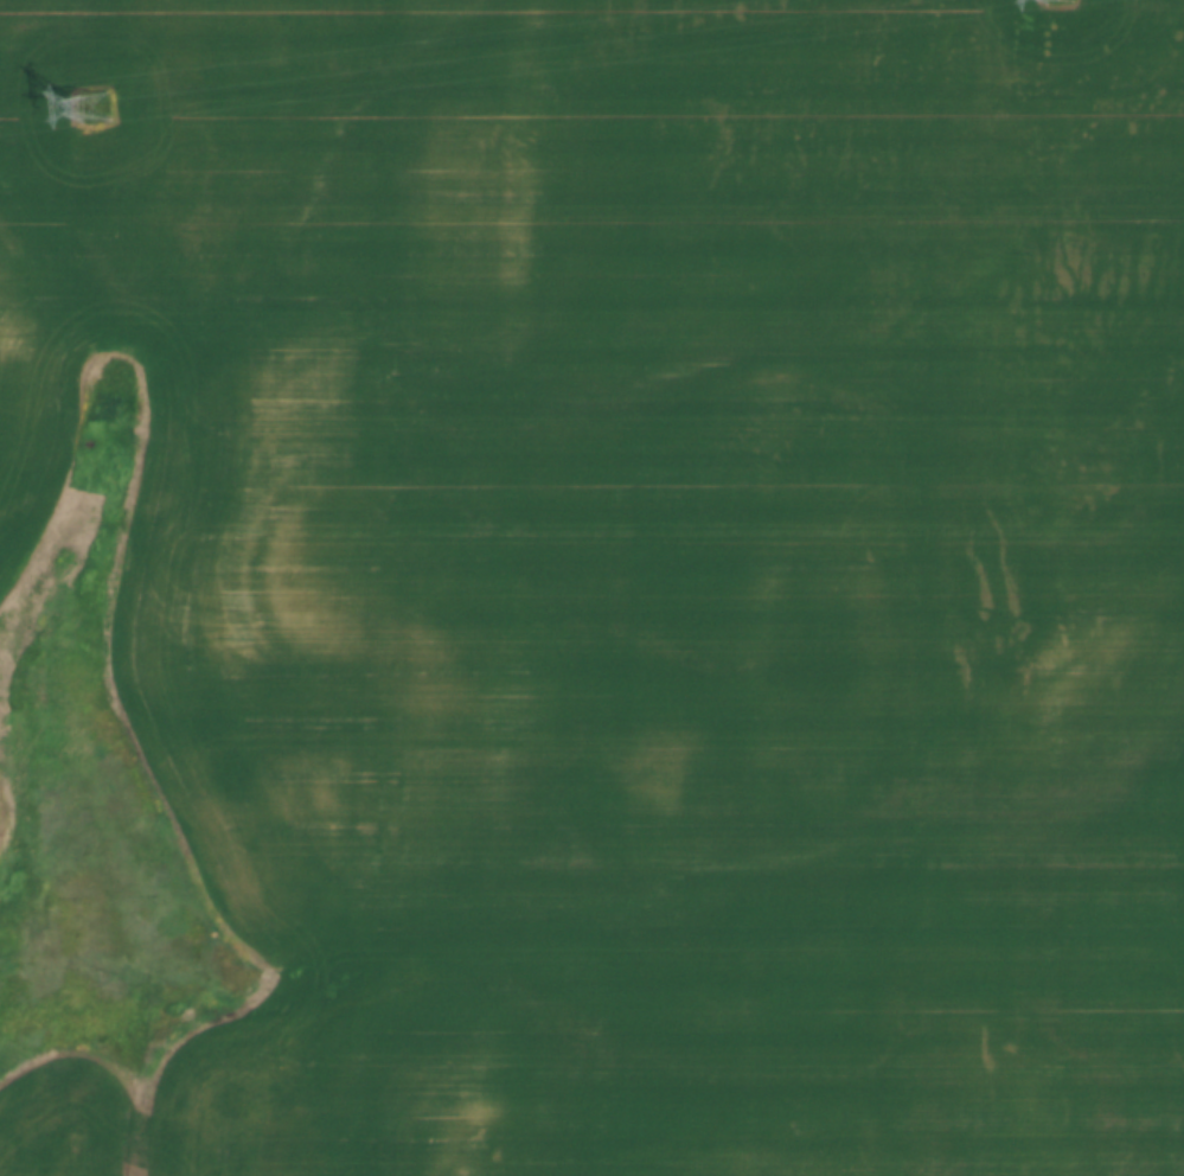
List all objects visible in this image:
power tower: (97, 113)

